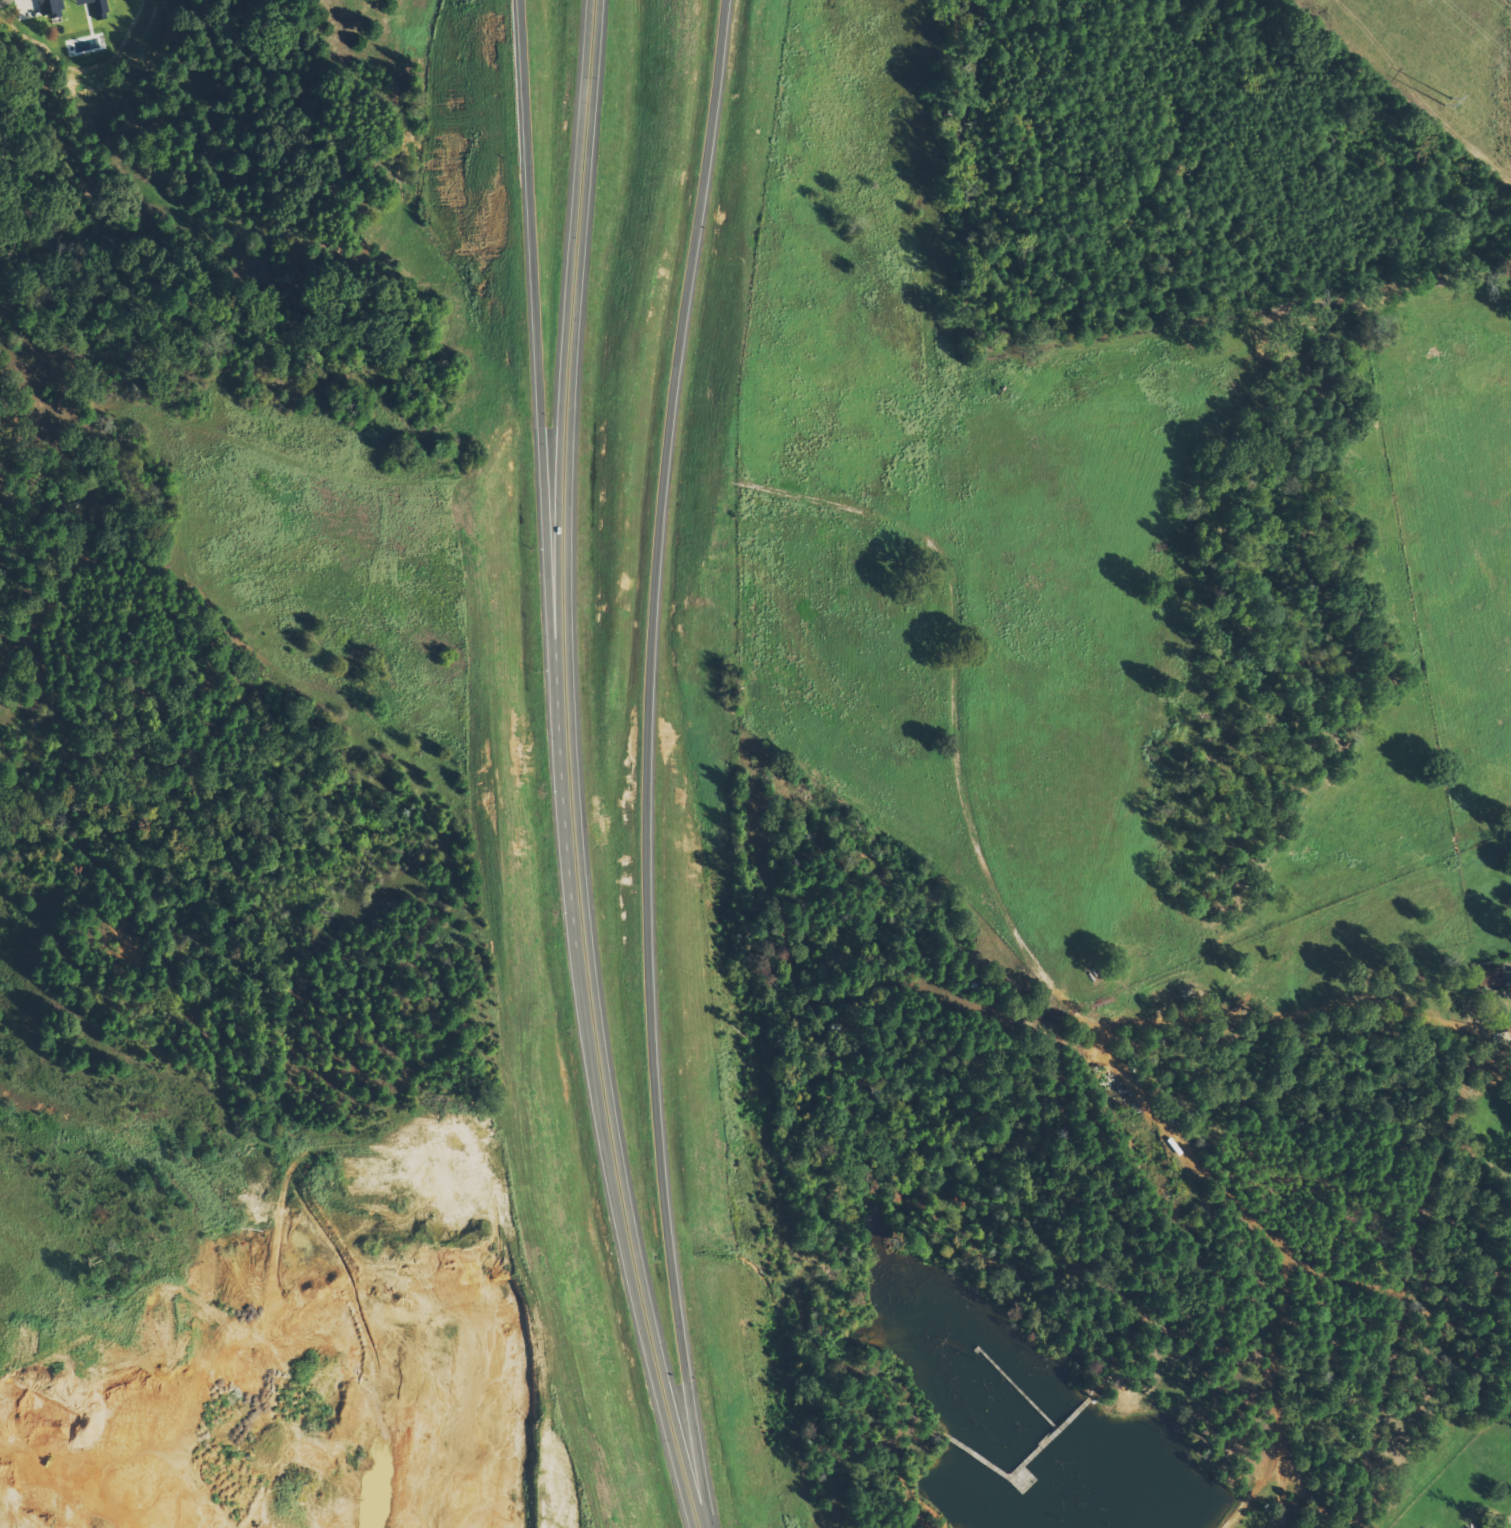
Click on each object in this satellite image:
road: (563, 451)
road: (540, 452)
road: (646, 763)
building: (1489, 978)
road: (621, 1218)

